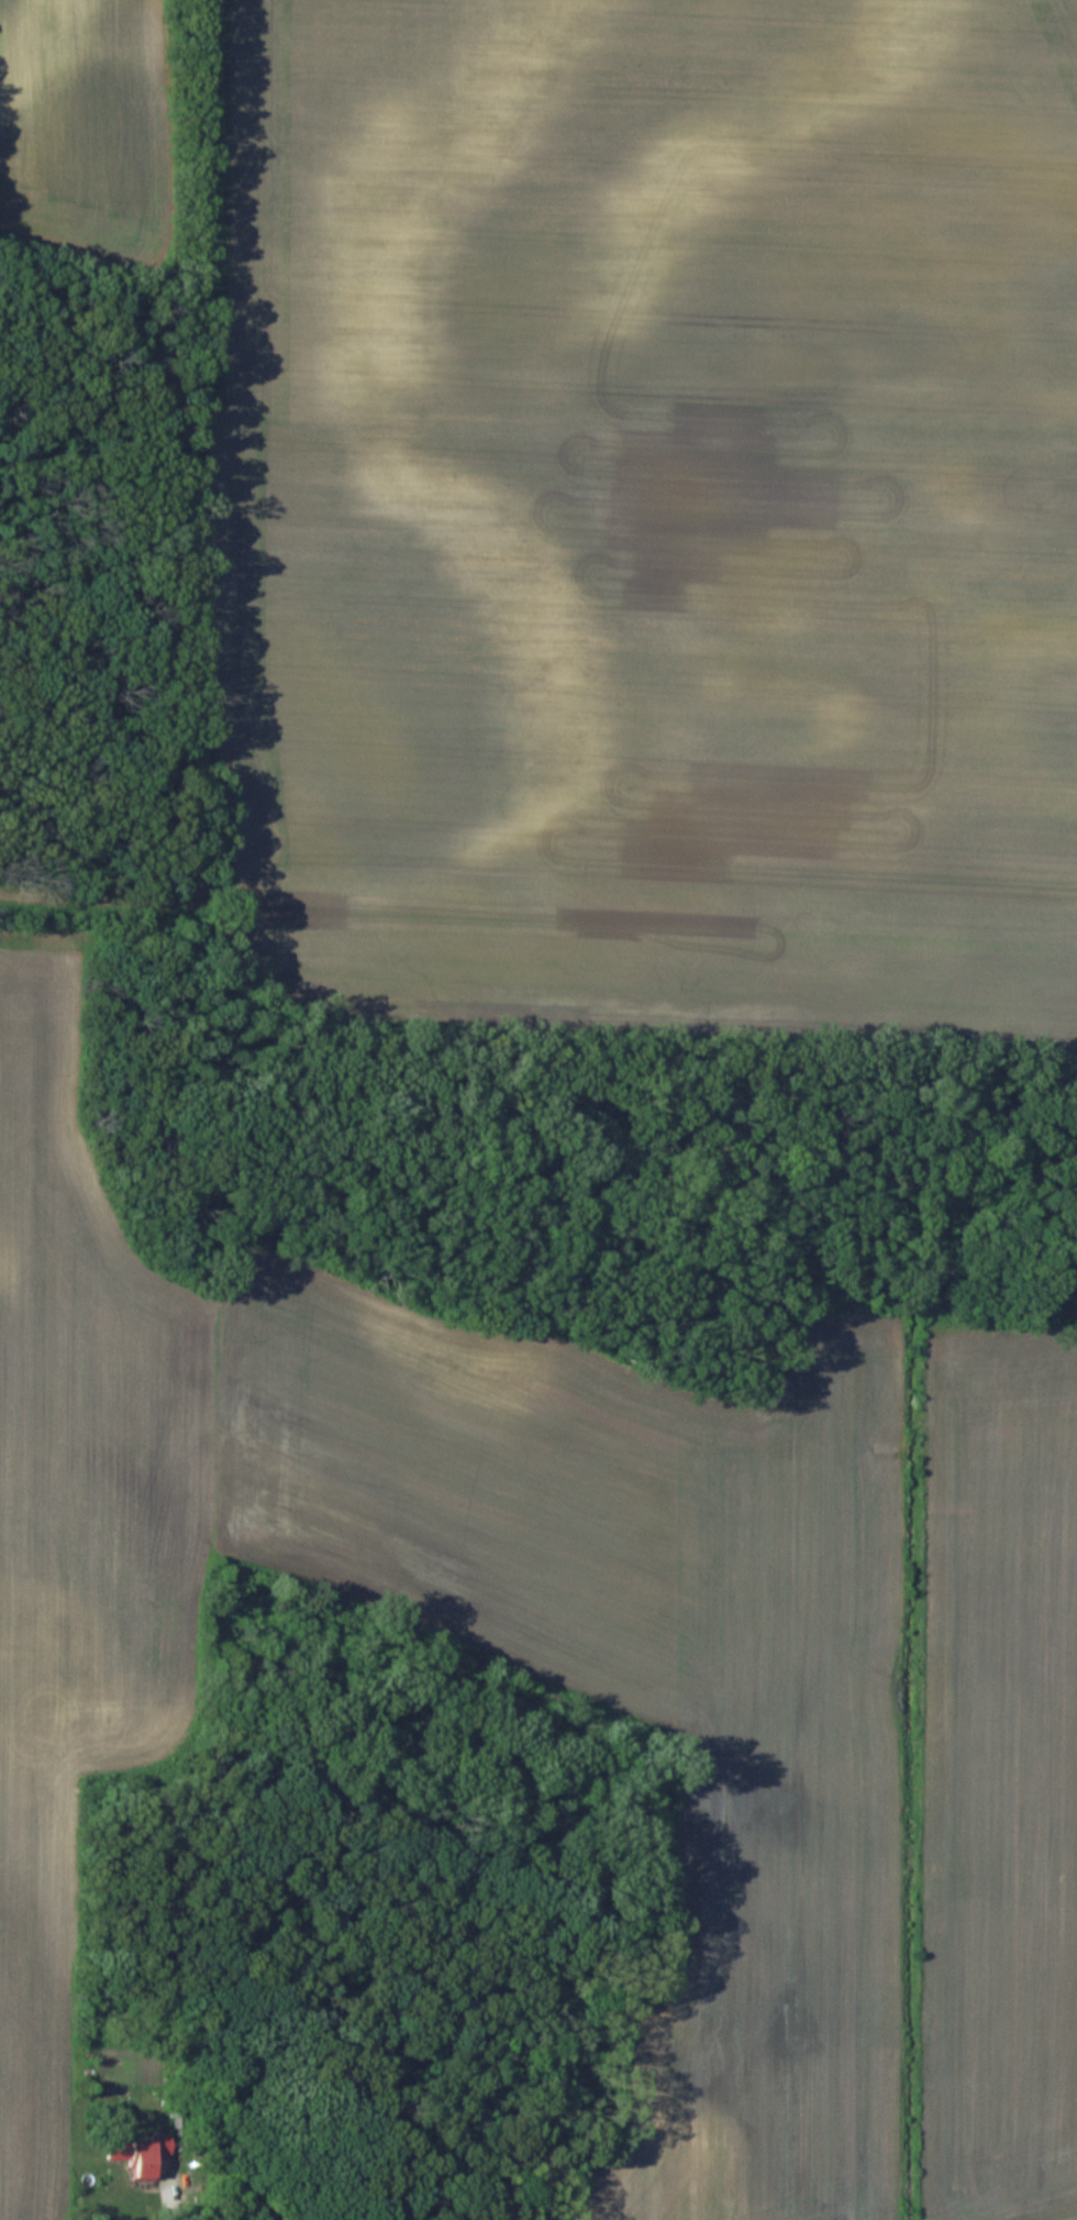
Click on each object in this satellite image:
road: (517, 2134)

